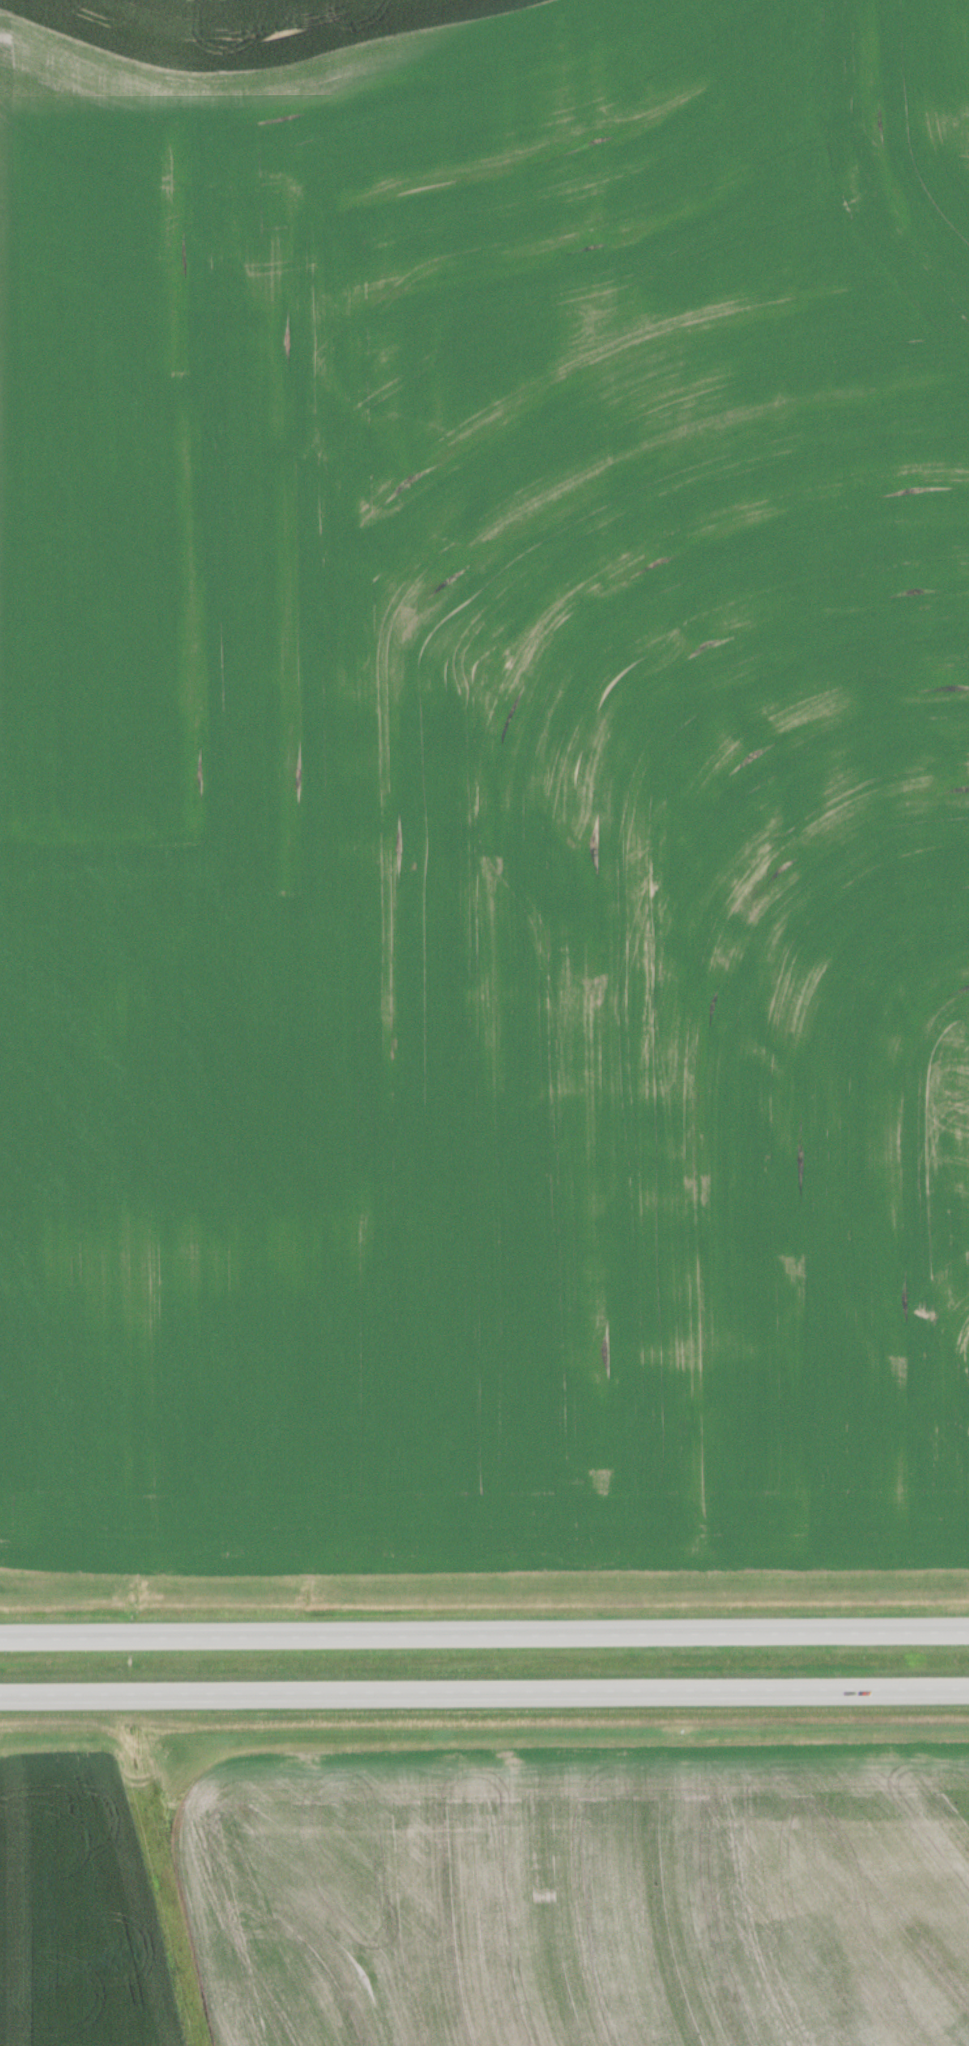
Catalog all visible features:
road: (484, 1632)
road: (484, 1695)

